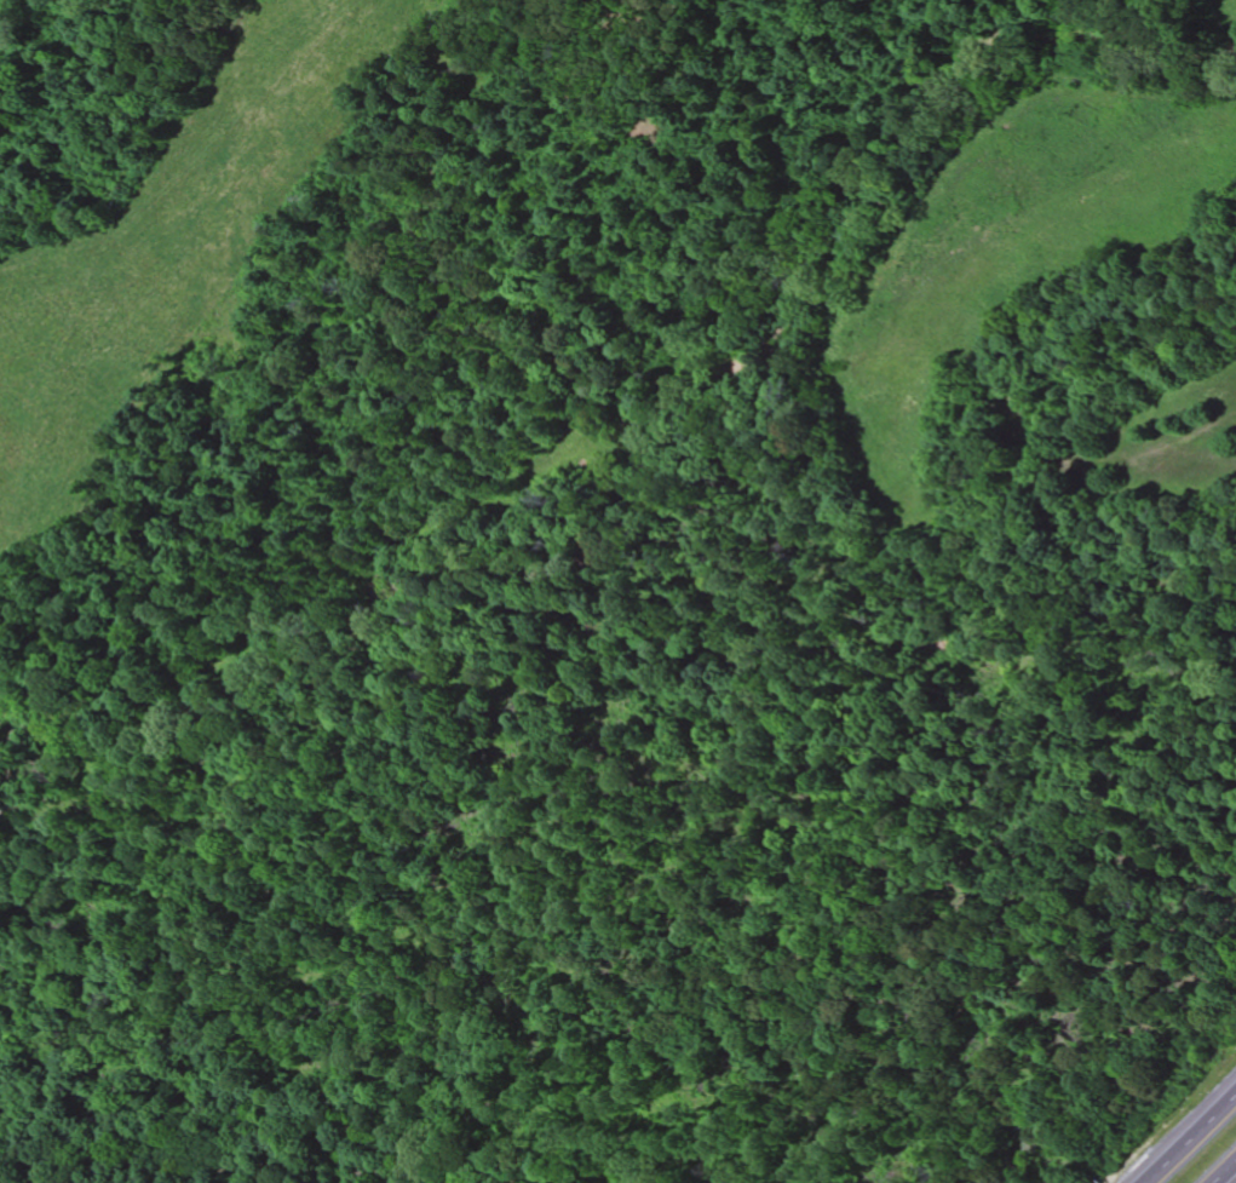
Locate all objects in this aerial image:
road: (1229, 8)
road: (1188, 1136)
road: (1223, 1170)

